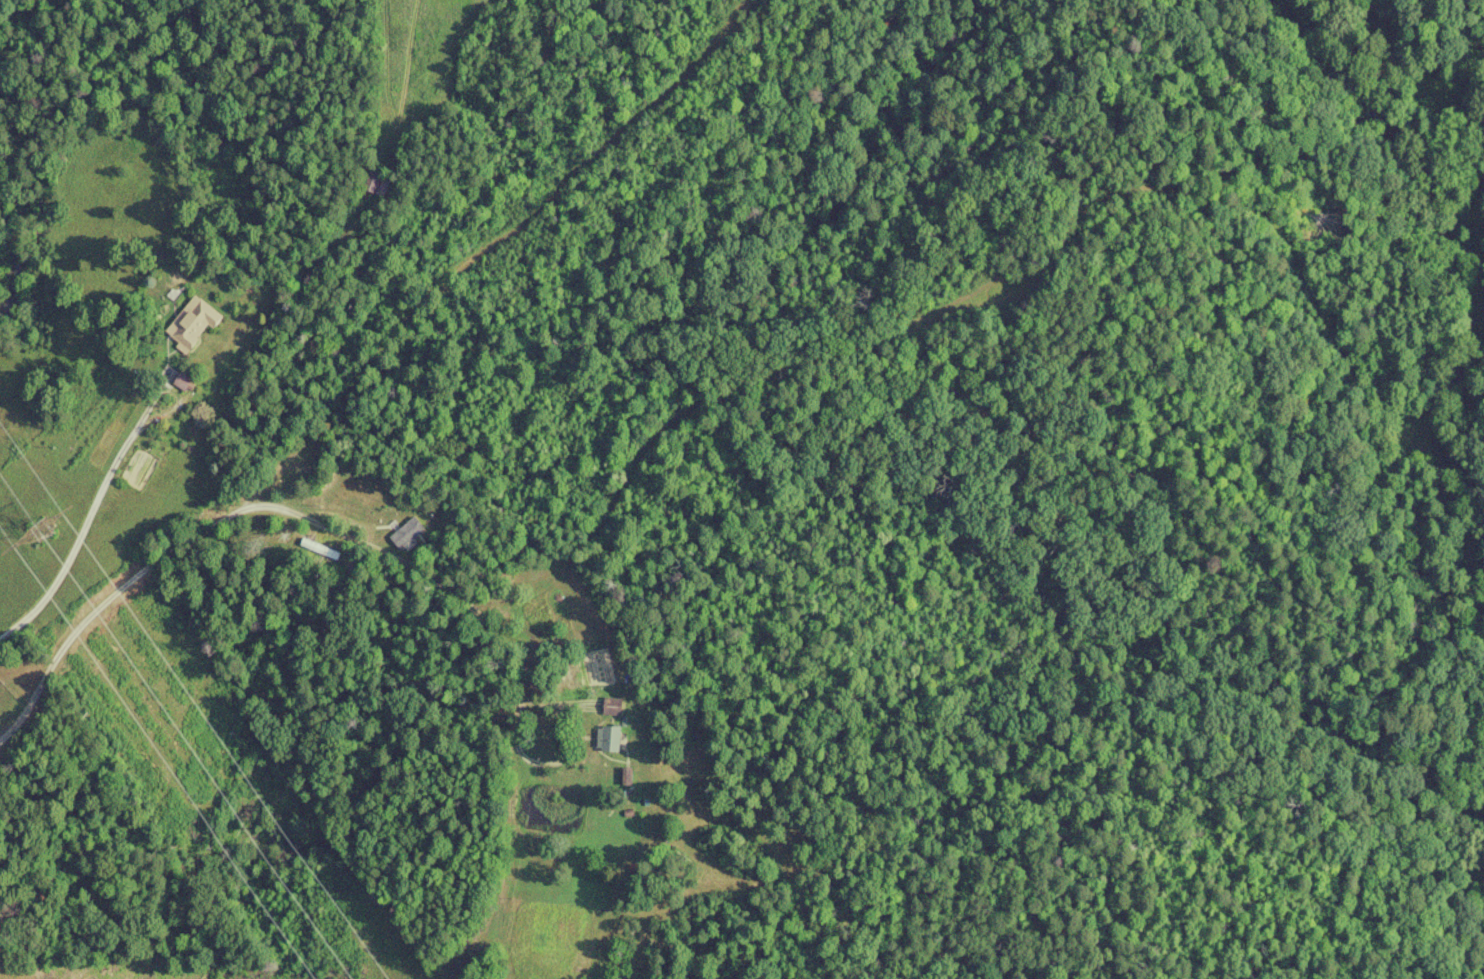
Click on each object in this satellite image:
building: (192, 326)
power tower: (45, 531)
building: (407, 534)
building: (320, 549)
building: (608, 739)

